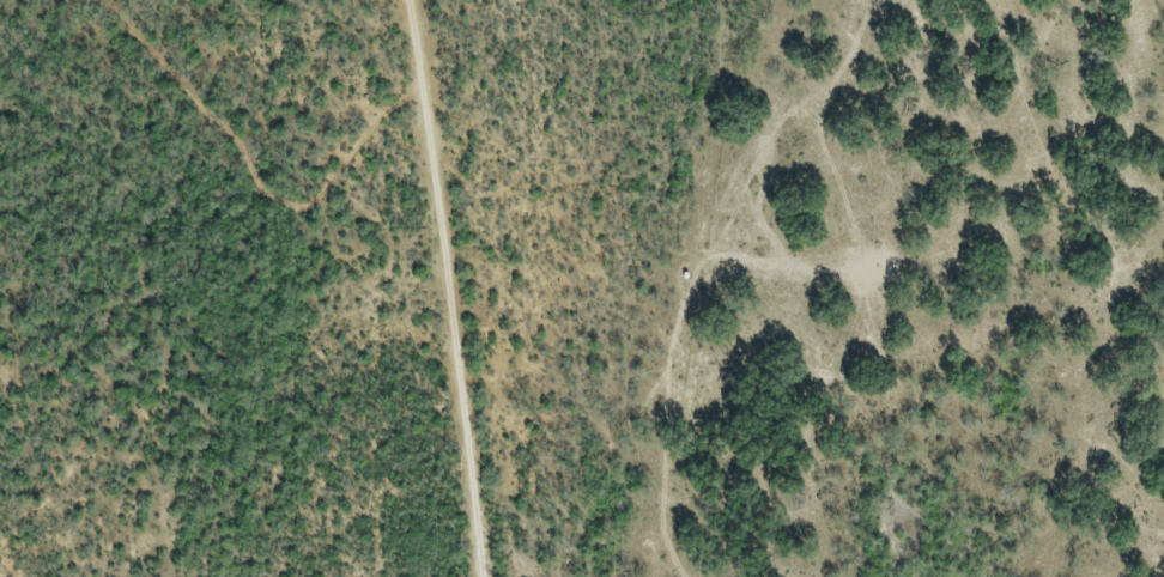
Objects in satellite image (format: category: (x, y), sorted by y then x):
road: (449, 287)

